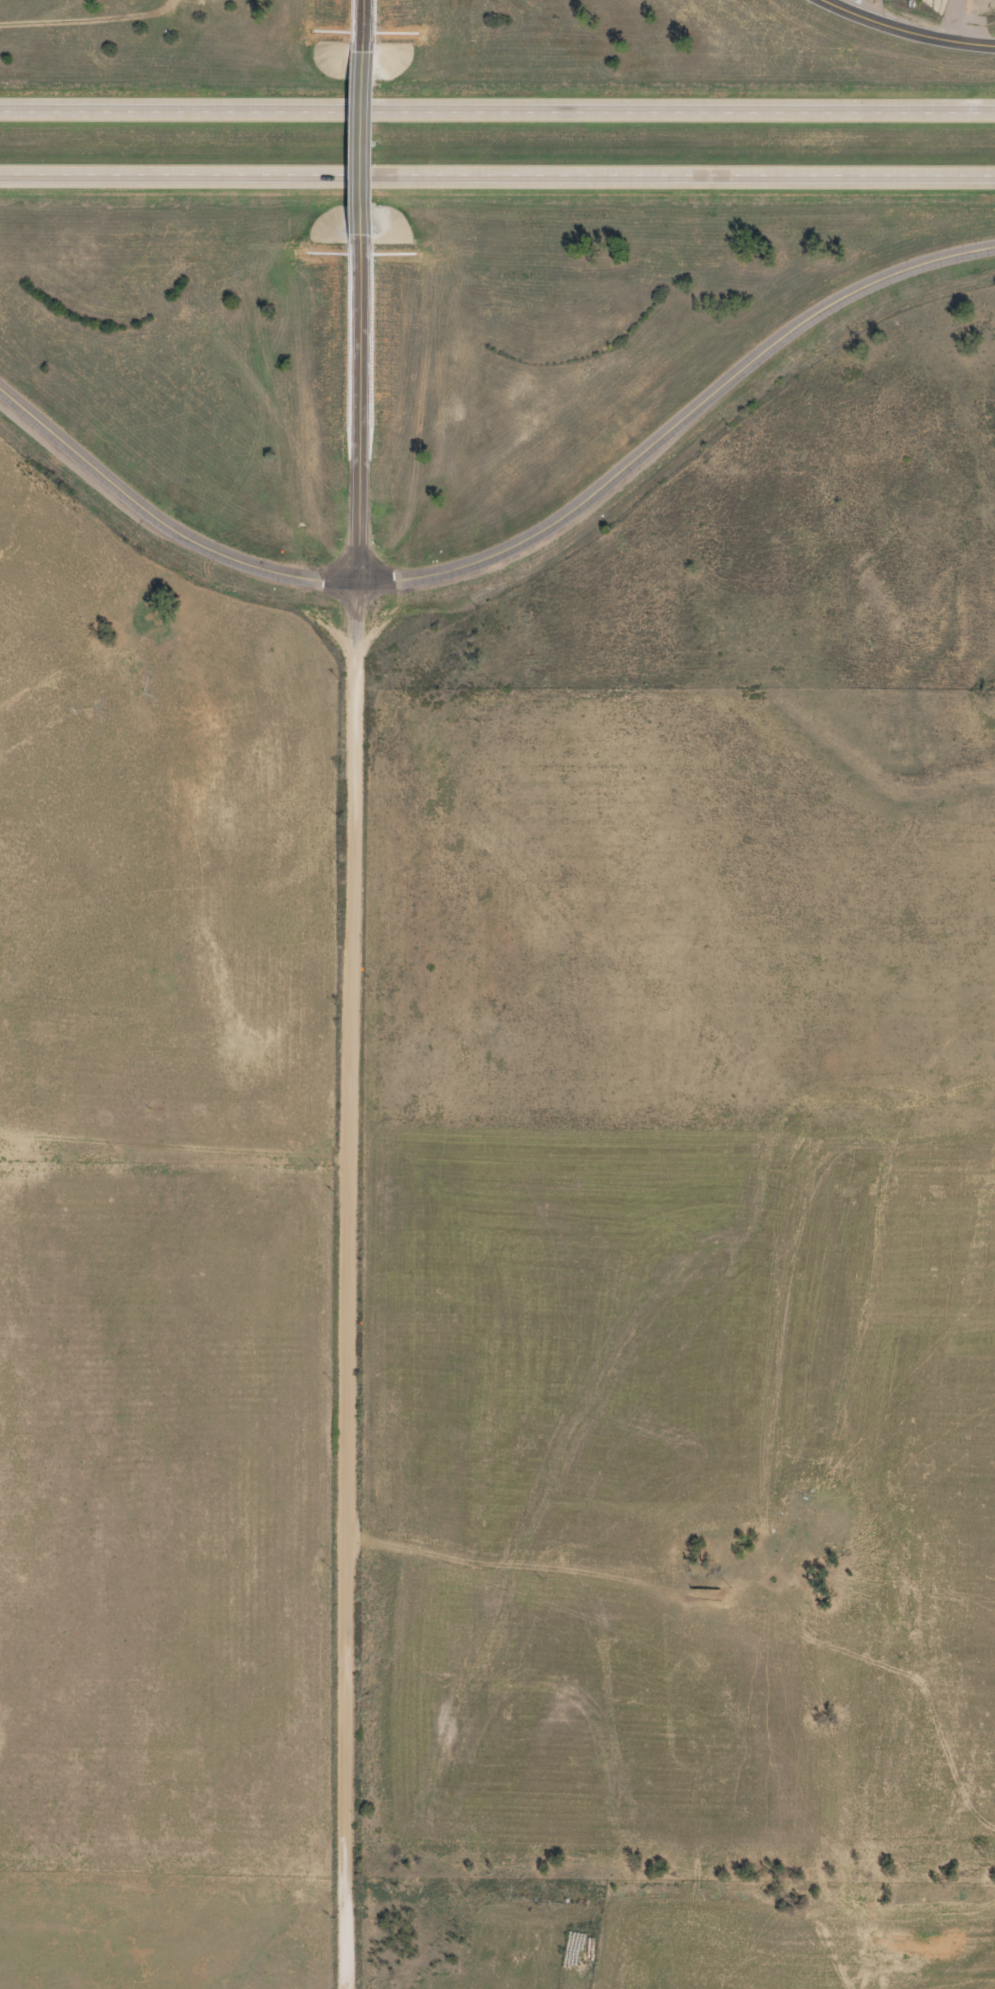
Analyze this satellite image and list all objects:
road: (862, 7)
road: (362, 19)
road: (955, 19)
road: (910, 29)
road: (497, 104)
road: (363, 127)
road: (497, 175)
road: (361, 399)
road: (513, 548)
road: (353, 1286)

